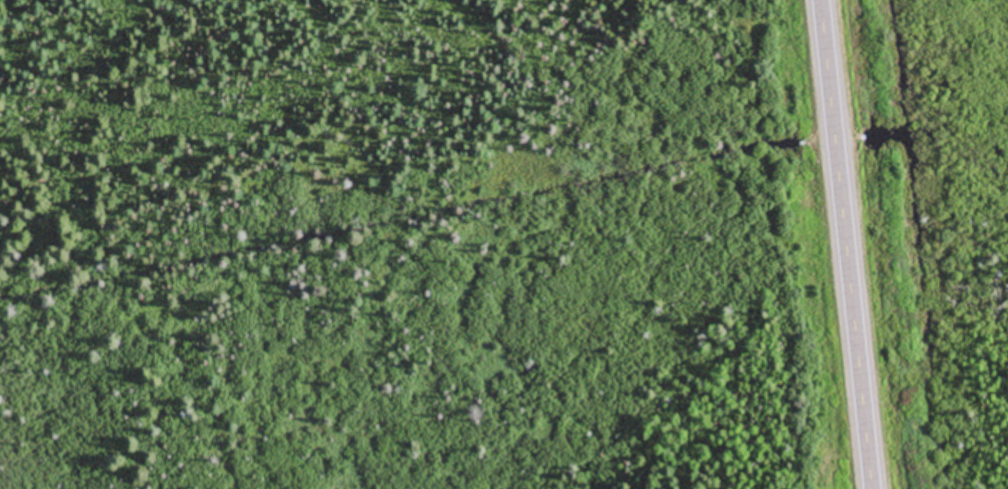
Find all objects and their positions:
road: (846, 244)

